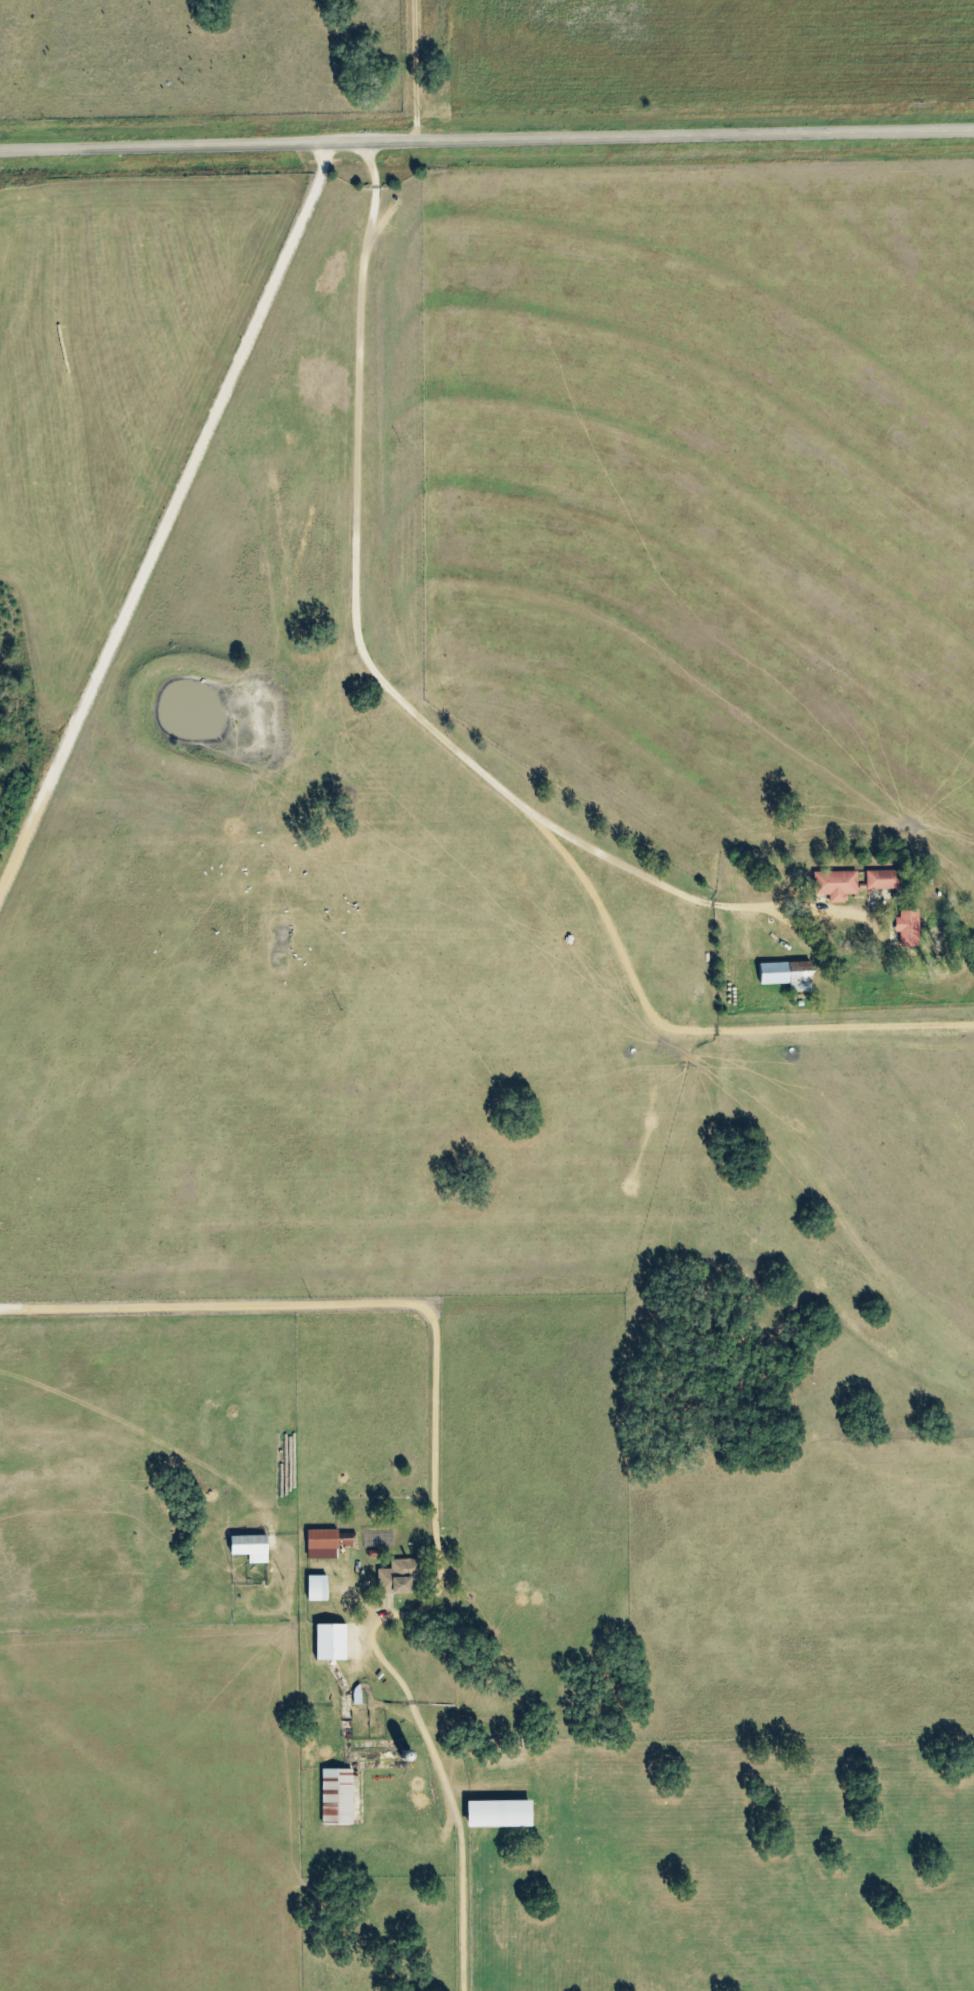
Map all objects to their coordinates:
road: (486, 139)
road: (169, 517)
road: (412, 678)
building: (883, 879)
building: (836, 884)
building: (909, 927)
building: (788, 975)
road: (283, 1328)
building: (328, 1542)
building: (252, 1547)
building: (399, 1576)
building: (318, 1587)
building: (332, 1641)
building: (338, 1796)
building: (501, 1813)

